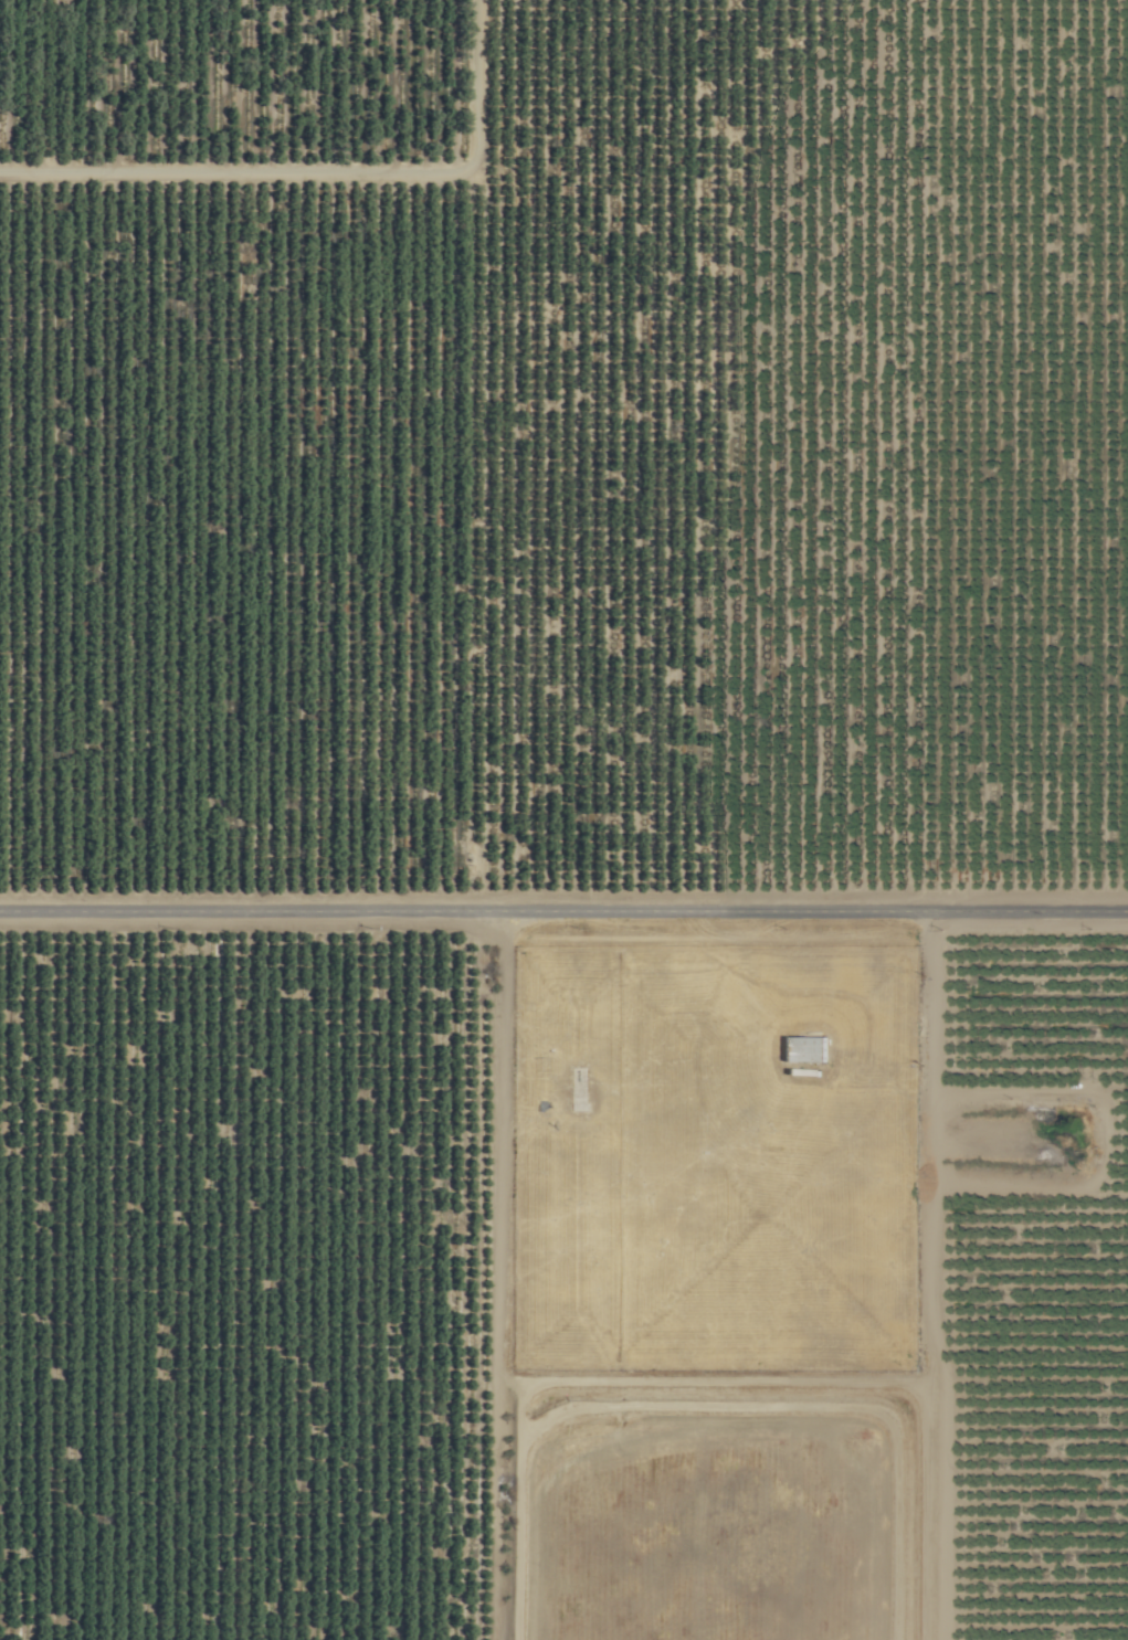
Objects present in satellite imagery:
road: (326, 174)
crop: (551, 766)
road: (563, 913)

